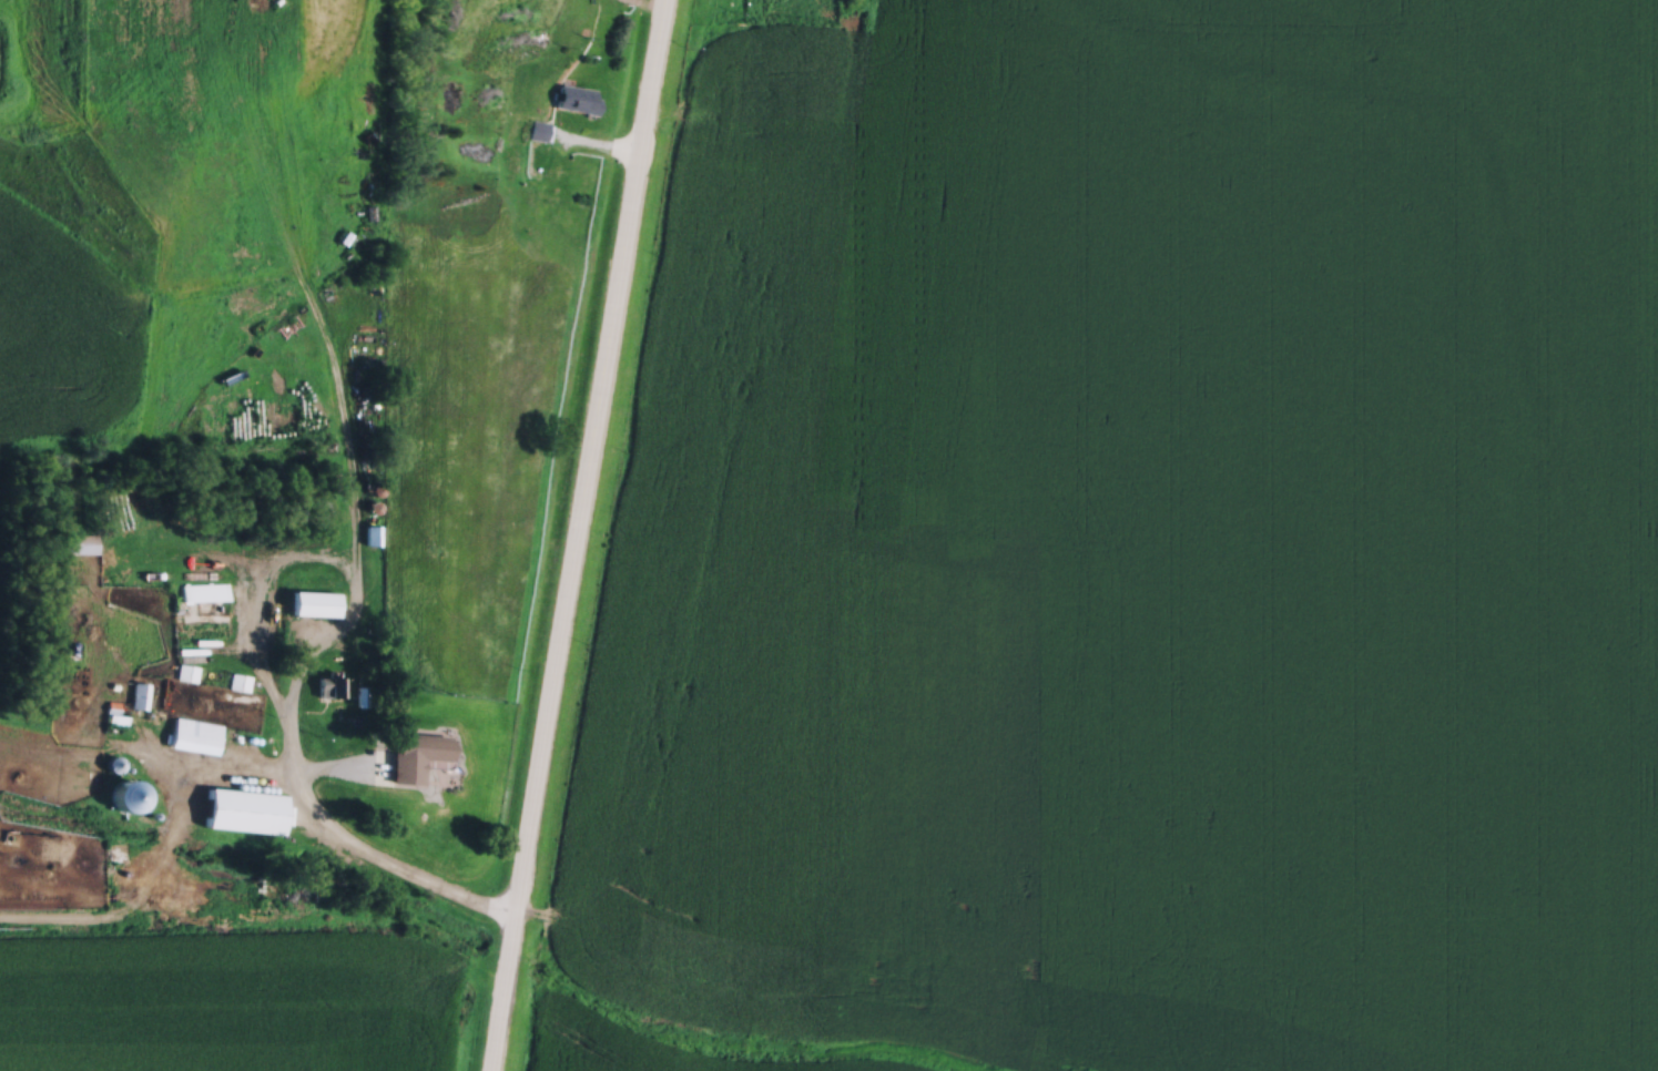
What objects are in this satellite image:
building: (579, 95)
building: (540, 127)
building: (373, 532)
road: (572, 534)
building: (80, 539)
building: (204, 589)
building: (316, 601)
building: (187, 670)
building: (240, 679)
building: (330, 683)
building: (140, 693)
building: (195, 732)
building: (419, 752)
building: (245, 807)
road: (350, 846)

